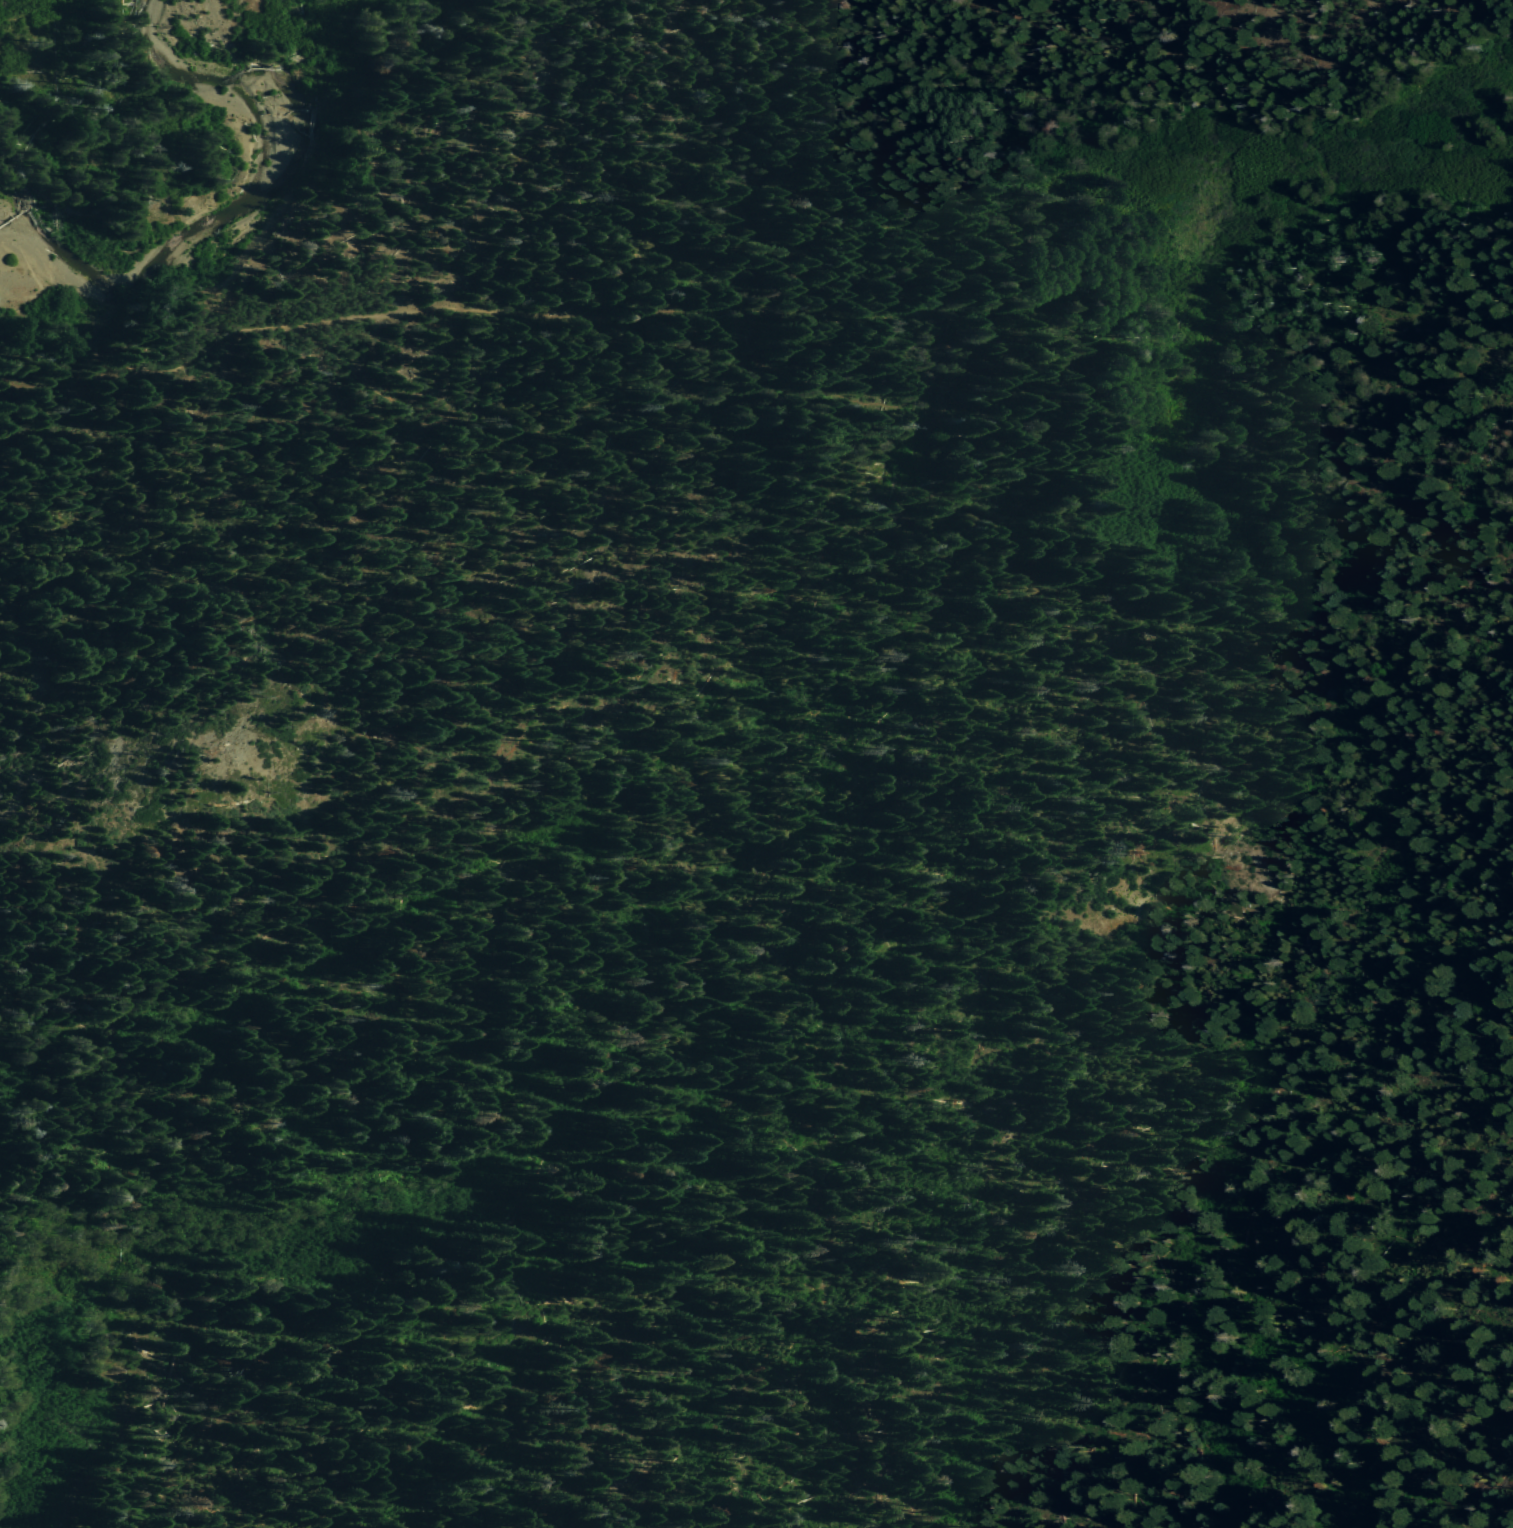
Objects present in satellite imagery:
road: (512, 310)
road: (919, 392)

